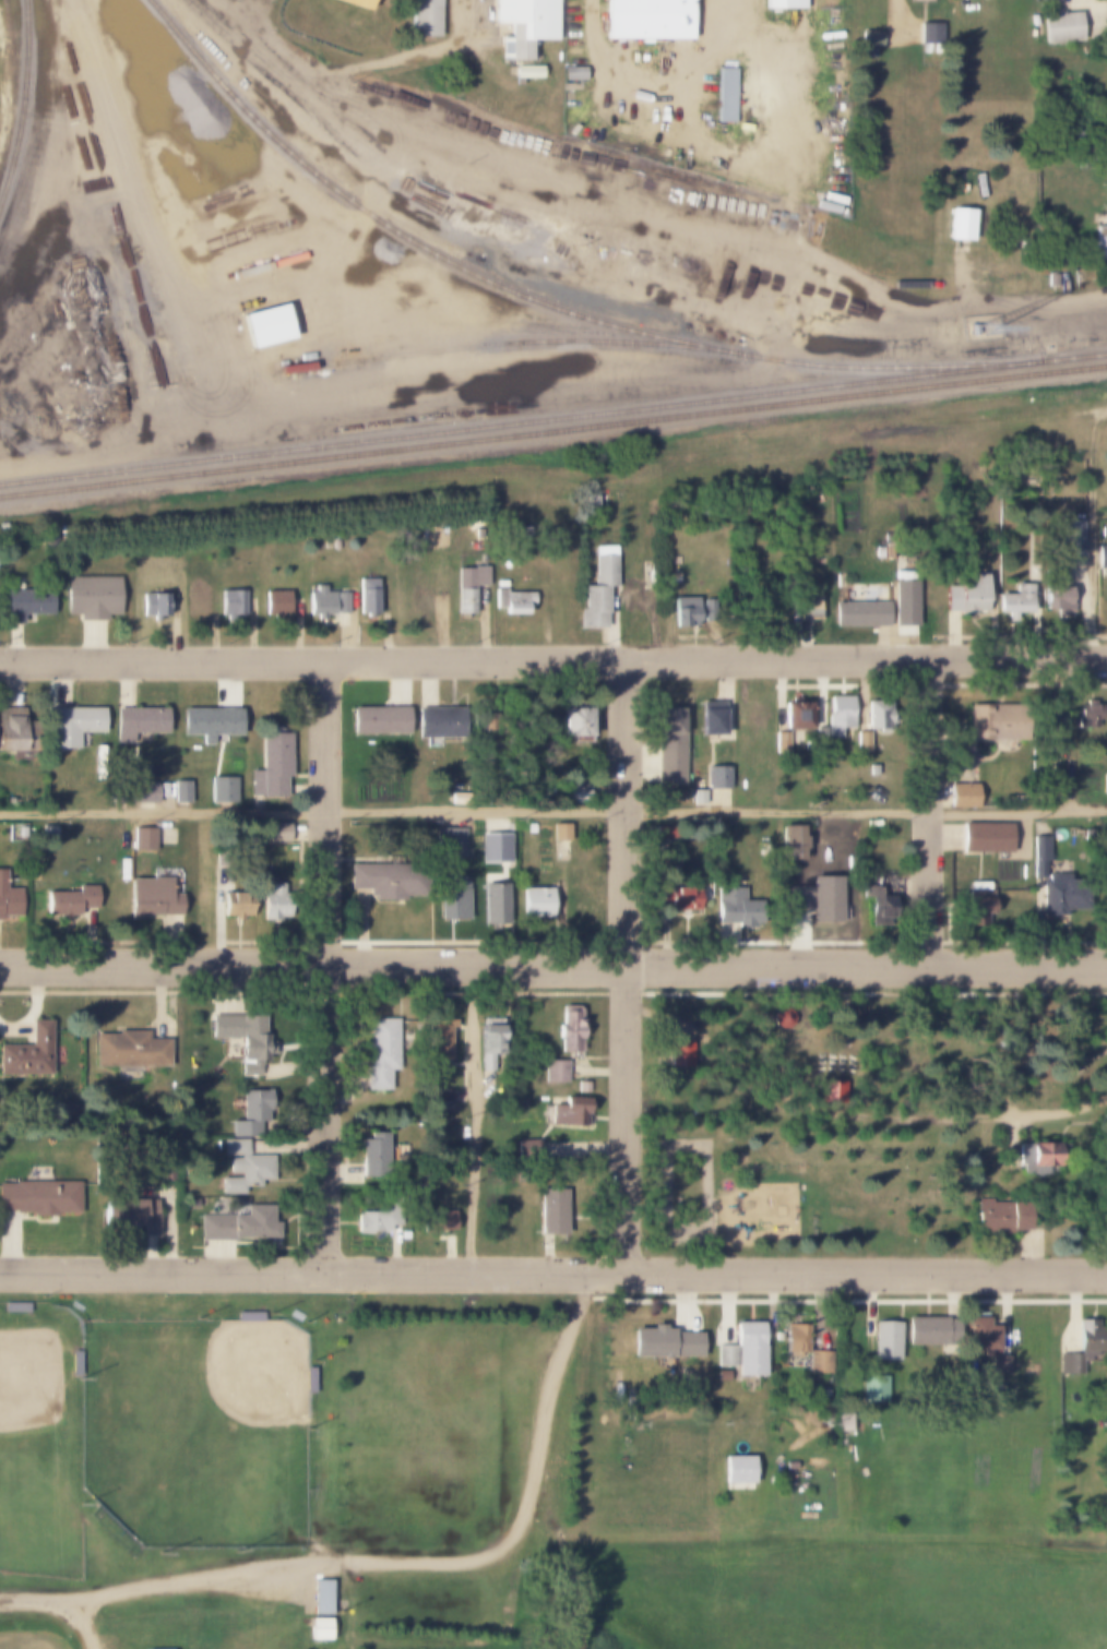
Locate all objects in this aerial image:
building: (355, 3)
building: (783, 4)
road: (474, 12)
building: (425, 17)
building: (646, 19)
building: (523, 24)
building: (1059, 27)
building: (926, 33)
building: (869, 38)
road: (377, 59)
building: (526, 72)
building: (573, 73)
building: (725, 94)
railway: (26, 108)
road: (148, 215)
road: (631, 215)
building: (960, 224)
building: (1100, 237)
building: (133, 273)
building: (1051, 279)
railway: (543, 304)
building: (264, 326)
building: (973, 328)
railway: (515, 345)
railway: (553, 422)
railway: (552, 434)
building: (592, 502)
road: (1083, 534)
building: (1071, 542)
building: (879, 552)
building: (1102, 555)
building: (670, 577)
building: (467, 586)
building: (598, 588)
building: (1057, 592)
building: (966, 594)
building: (367, 596)
building: (90, 597)
building: (636, 598)
building: (1015, 600)
building: (194, 601)
building: (274, 601)
building: (512, 601)
building: (230, 602)
building: (319, 602)
building: (338, 602)
building: (1106, 602)
building: (24, 604)
building: (153, 605)
building: (808, 607)
building: (691, 612)
building: (858, 612)
road: (552, 656)
building: (794, 715)
building: (876, 715)
building: (1087, 715)
building: (837, 716)
building: (710, 718)
building: (759, 718)
building: (379, 720)
building: (211, 721)
building: (439, 721)
building: (136, 722)
building: (477, 722)
building: (73, 724)
building: (574, 725)
building: (989, 726)
building: (14, 730)
building: (1054, 730)
building: (819, 736)
building: (861, 742)
building: (782, 743)
building: (668, 746)
building: (271, 765)
building: (872, 769)
building: (717, 776)
building: (1105, 782)
building: (223, 790)
building: (181, 791)
building: (134, 792)
building: (575, 792)
building: (738, 793)
building: (963, 794)
building: (583, 796)
building: (698, 797)
building: (457, 798)
road: (552, 805)
road: (936, 810)
building: (529, 827)
building: (1104, 831)
building: (277, 832)
building: (559, 832)
building: (659, 833)
building: (985, 837)
building: (142, 839)
building: (790, 841)
building: (450, 844)
building: (493, 848)
building: (1039, 855)
storage tank: (1023, 871)
building: (384, 879)
building: (1059, 895)
building: (152, 897)
building: (677, 898)
building: (814, 898)
building: (9, 899)
building: (452, 900)
building: (881, 900)
building: (274, 903)
building: (535, 903)
building: (978, 903)
building: (68, 904)
building: (237, 904)
building: (493, 906)
building: (733, 906)
road: (552, 961)
road: (324, 963)
road: (626, 964)
building: (781, 1019)
building: (567, 1030)
building: (243, 1038)
building: (438, 1039)
building: (489, 1044)
building: (128, 1050)
building: (27, 1052)
building: (380, 1053)
building: (681, 1053)
building: (552, 1072)
building: (581, 1087)
building: (436, 1098)
park: (844, 1108)
building: (567, 1111)
building: (249, 1115)
road: (479, 1116)
road: (944, 1122)
storage tank: (217, 1145)
building: (233, 1146)
building: (372, 1155)
building: (1038, 1155)
building: (246, 1171)
building: (39, 1198)
building: (188, 1203)
building: (550, 1211)
building: (134, 1214)
building: (1000, 1216)
building: (379, 1218)
building: (436, 1220)
building: (238, 1224)
road: (552, 1272)
building: (925, 1331)
building: (981, 1336)
building: (794, 1338)
building: (884, 1340)
building: (663, 1343)
building: (1081, 1347)
building: (742, 1350)
building: (819, 1361)
building: (998, 1366)
building: (721, 1375)
building: (873, 1388)
building: (877, 1402)
building: (846, 1423)
park: (201, 1434)
park: (41, 1445)
building: (737, 1469)
road: (400, 1557)
road: (569, 1557)
building: (320, 1598)
road: (88, 1621)
building: (319, 1628)
park: (32, 1641)

